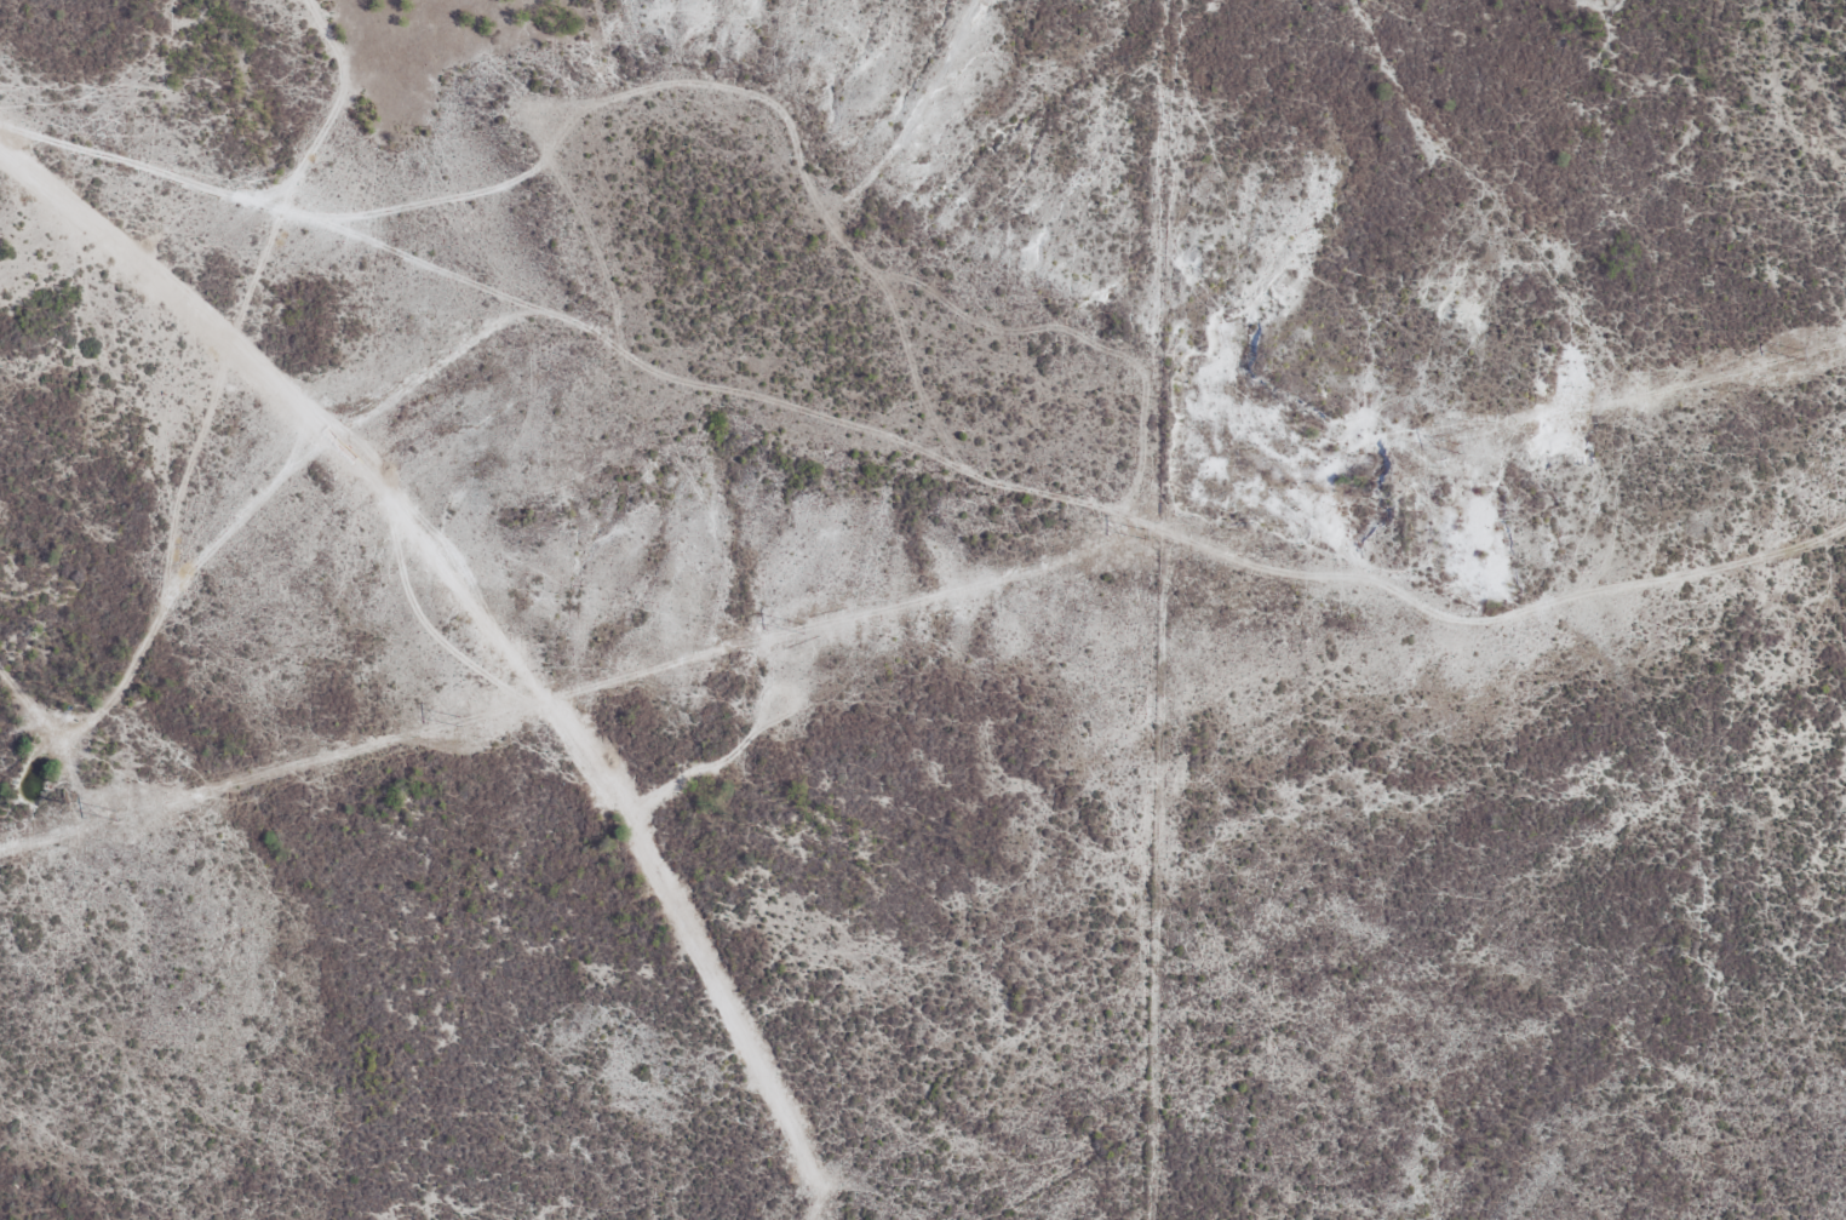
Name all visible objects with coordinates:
power tower: (1770, 356)
road: (328, 445)
power tower: (1437, 449)
road: (1079, 500)
power tower: (1117, 538)
power tower: (780, 630)
power tower: (441, 724)
power tower: (114, 815)

